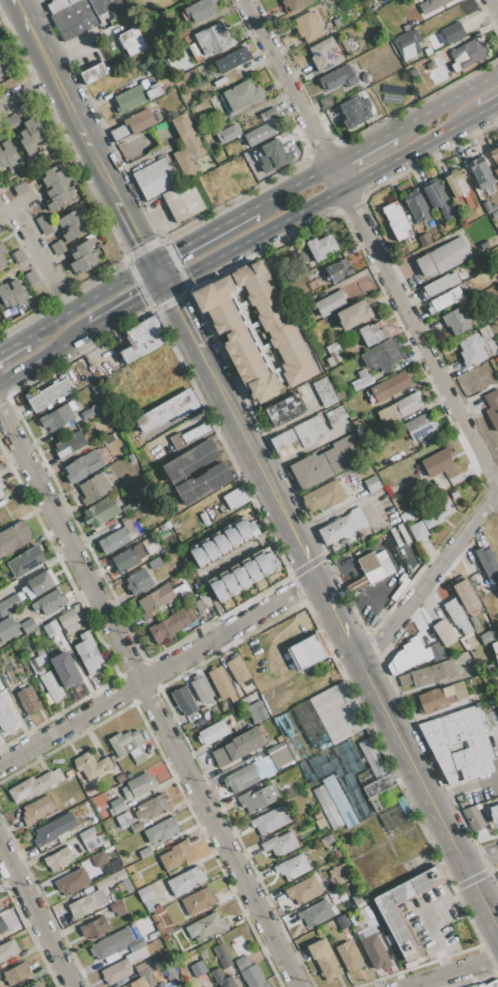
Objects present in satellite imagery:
building: (71, 1)
road: (496, 2)
building: (295, 4)
building: (57, 5)
building: (431, 5)
building: (107, 10)
building: (200, 10)
road: (23, 14)
building: (387, 18)
building: (76, 19)
building: (336, 22)
building: (307, 26)
building: (453, 33)
building: (213, 39)
building: (132, 40)
building: (407, 43)
building: (0, 48)
building: (427, 51)
building: (1, 54)
building: (466, 54)
road: (44, 55)
building: (323, 55)
building: (232, 59)
building: (1, 61)
building: (1, 67)
building: (94, 72)
building: (1, 73)
building: (338, 78)
road: (291, 81)
building: (136, 95)
building: (242, 95)
road: (65, 96)
road: (28, 98)
building: (326, 101)
road: (445, 101)
road: (488, 106)
building: (354, 112)
building: (268, 113)
building: (13, 120)
building: (141, 120)
building: (34, 130)
building: (228, 133)
building: (258, 134)
road: (87, 136)
building: (27, 141)
building: (187, 145)
road: (362, 146)
road: (412, 149)
building: (9, 152)
building: (273, 155)
building: (494, 155)
building: (3, 160)
building: (10, 168)
building: (14, 169)
building: (496, 172)
building: (481, 173)
road: (339, 174)
building: (52, 176)
building: (155, 178)
road: (110, 181)
building: (74, 182)
building: (456, 182)
road: (294, 183)
building: (57, 186)
building: (20, 187)
road: (7, 194)
building: (439, 199)
building: (58, 200)
building: (182, 201)
building: (416, 206)
building: (494, 214)
building: (69, 219)
building: (396, 219)
building: (44, 224)
building: (73, 230)
road: (134, 231)
road: (202, 234)
road: (253, 236)
building: (424, 239)
traffic signals: (141, 245)
building: (483, 245)
building: (412, 246)
building: (57, 247)
building: (320, 247)
building: (2, 248)
building: (82, 249)
traffic signals: (173, 251)
building: (18, 256)
road: (45, 257)
building: (442, 257)
building: (2, 261)
building: (83, 264)
building: (310, 264)
road: (21, 266)
building: (338, 270)
road: (156, 275)
building: (30, 278)
building: (439, 285)
building: (17, 292)
building: (6, 297)
traffic signals: (141, 299)
building: (446, 300)
road: (85, 301)
building: (331, 303)
traffic signals: (171, 305)
road: (126, 307)
building: (354, 315)
road: (179, 318)
building: (456, 321)
building: (275, 322)
building: (371, 334)
road: (421, 334)
building: (483, 334)
building: (236, 338)
building: (143, 339)
road: (10, 346)
building: (471, 349)
building: (333, 354)
road: (45, 355)
building: (383, 355)
road: (207, 372)
building: (97, 374)
building: (361, 380)
building: (390, 386)
building: (95, 389)
building: (325, 392)
building: (50, 394)
building: (72, 405)
building: (400, 408)
building: (492, 408)
building: (284, 410)
building: (167, 411)
building: (88, 413)
building: (335, 415)
building: (57, 418)
building: (420, 426)
building: (309, 431)
building: (197, 432)
road: (239, 433)
building: (107, 439)
building: (177, 442)
building: (70, 444)
building: (286, 444)
building: (343, 454)
building: (131, 458)
building: (191, 462)
building: (437, 462)
building: (82, 467)
building: (311, 470)
building: (106, 473)
building: (440, 481)
building: (203, 483)
building: (372, 484)
building: (1, 487)
building: (94, 490)
building: (1, 494)
building: (453, 494)
building: (324, 496)
building: (235, 497)
road: (279, 507)
building: (126, 508)
building: (100, 512)
building: (437, 516)
building: (167, 524)
building: (342, 526)
building: (246, 530)
building: (417, 531)
building: (233, 537)
building: (13, 538)
building: (116, 539)
building: (221, 543)
building: (210, 550)
building: (138, 551)
building: (200, 556)
building: (125, 560)
building: (264, 560)
building: (25, 562)
building: (154, 563)
building: (384, 563)
building: (488, 564)
building: (252, 569)
building: (366, 573)
building: (241, 576)
road: (429, 576)
building: (138, 582)
building: (229, 582)
building: (380, 584)
building: (38, 585)
building: (197, 586)
building: (218, 589)
road: (323, 594)
building: (465, 594)
building: (156, 600)
building: (48, 602)
building: (202, 603)
building: (9, 604)
building: (191, 615)
building: (457, 616)
building: (68, 621)
building: (473, 621)
building: (28, 625)
building: (168, 626)
building: (50, 628)
building: (444, 633)
building: (488, 636)
building: (495, 650)
building: (307, 652)
building: (88, 653)
building: (435, 653)
building: (406, 656)
building: (489, 668)
building: (238, 670)
building: (67, 672)
road: (157, 672)
building: (429, 674)
building: (221, 683)
building: (51, 685)
building: (201, 689)
building: (441, 697)
road: (147, 699)
building: (28, 700)
building: (184, 701)
building: (222, 706)
building: (203, 709)
building: (256, 712)
building: (6, 717)
building: (320, 722)
building: (212, 733)
building: (279, 739)
building: (457, 740)
building: (128, 745)
building: (237, 747)
building: (279, 755)
building: (106, 763)
building: (87, 765)
building: (264, 767)
building: (477, 769)
building: (374, 770)
building: (340, 773)
building: (69, 774)
building: (120, 778)
building: (242, 778)
building: (139, 785)
building: (33, 786)
road: (423, 786)
building: (257, 797)
building: (70, 801)
building: (339, 802)
building: (117, 806)
building: (152, 807)
building: (327, 807)
building: (37, 809)
building: (494, 812)
building: (317, 815)
building: (396, 815)
building: (473, 818)
building: (124, 819)
building: (270, 821)
building: (320, 823)
building: (137, 828)
building: (54, 829)
building: (162, 830)
building: (91, 839)
building: (326, 839)
building: (280, 844)
building: (145, 852)
building: (175, 856)
road: (480, 858)
building: (58, 859)
building: (98, 859)
building: (112, 867)
building: (292, 867)
building: (338, 874)
building: (134, 877)
building: (110, 879)
building: (186, 880)
building: (72, 882)
building: (127, 885)
building: (303, 890)
building: (145, 894)
building: (167, 895)
building: (97, 897)
building: (110, 897)
building: (356, 899)
building: (198, 901)
building: (81, 906)
building: (117, 908)
building: (317, 913)
road: (37, 916)
building: (154, 918)
road: (424, 918)
road: (496, 921)
building: (341, 922)
building: (2, 926)
building: (207, 926)
building: (94, 927)
building: (159, 927)
building: (242, 929)
building: (397, 931)
building: (134, 932)
building: (151, 936)
building: (166, 939)
building: (371, 941)
building: (115, 944)
building: (7, 950)
building: (202, 952)
building: (135, 955)
building: (222, 956)
building: (348, 957)
building: (111, 958)
building: (324, 959)
building: (243, 962)
building: (197, 968)
building: (141, 969)
building: (115, 971)
road: (454, 972)
building: (16, 974)
building: (217, 975)
building: (254, 977)
building: (139, 980)
building: (148, 980)
building: (227, 982)
building: (493, 984)
building: (161, 985)
building: (170, 985)
building: (478, 985)
building: (32, 986)
building: (35, 986)

